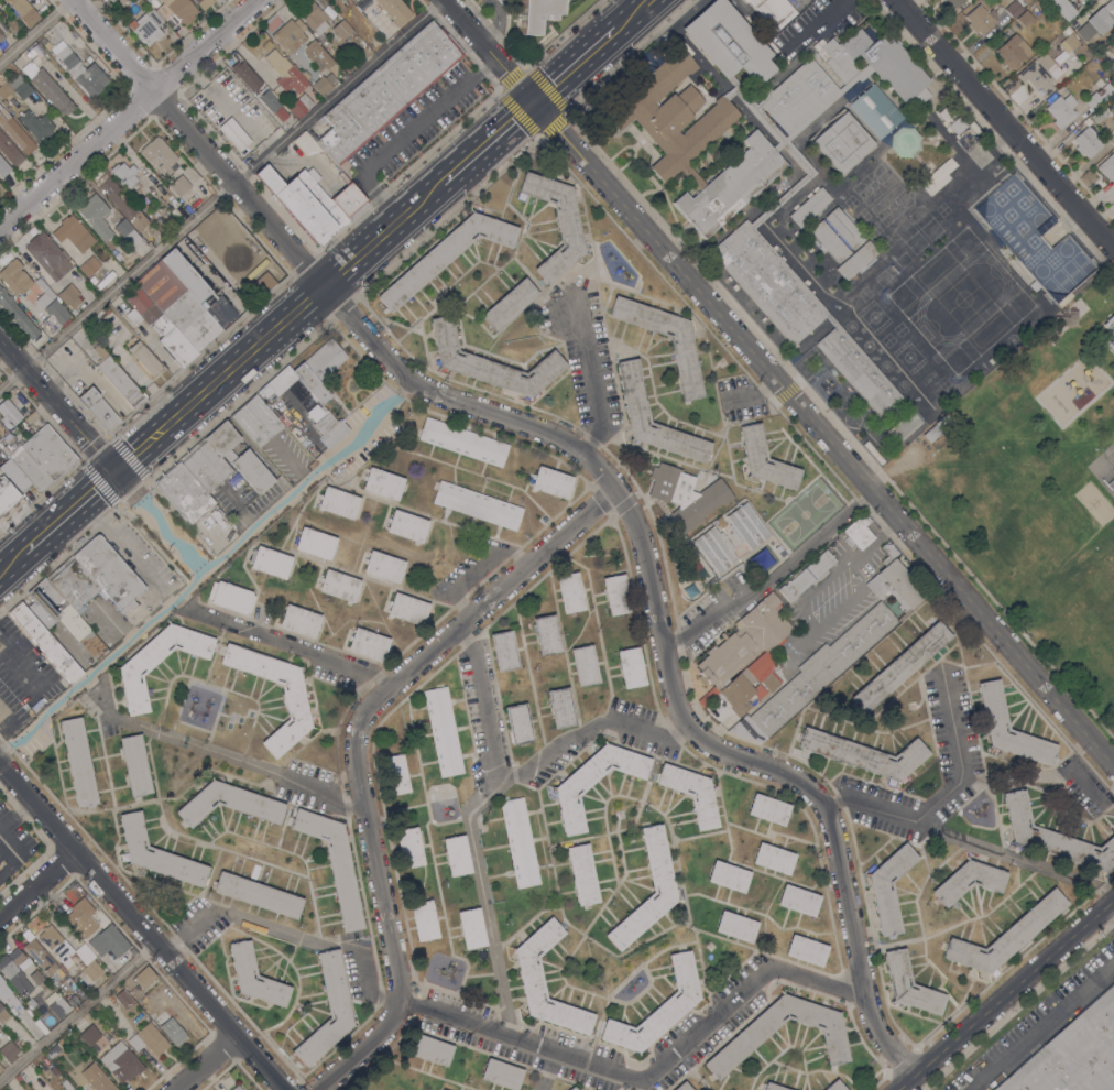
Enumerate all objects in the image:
building: (111, 0)
building: (353, 0)
building: (944, 0)
building: (1077, 0)
building: (197, 1)
building: (154, 2)
building: (954, 2)
building: (1108, 4)
building: (1015, 8)
building: (1062, 8)
building: (181, 10)
building: (394, 10)
building: (23, 11)
building: (773, 11)
building: (535, 14)
road: (631, 15)
building: (313, 17)
building: (980, 19)
building: (1024, 20)
road: (817, 24)
building: (1094, 25)
building: (146, 26)
building: (2, 28)
building: (62, 29)
road: (34, 30)
building: (341, 30)
building: (288, 36)
building: (1070, 41)
building: (2, 42)
building: (728, 42)
building: (45, 43)
building: (263, 48)
building: (1012, 51)
building: (34, 52)
building: (875, 64)
building: (320, 67)
road: (572, 67)
building: (79, 69)
building: (1101, 70)
building: (242, 72)
building: (285, 73)
building: (1039, 74)
building: (856, 77)
building: (1111, 84)
building: (14, 87)
building: (764, 87)
building: (47, 88)
building: (386, 90)
building: (799, 98)
building: (1095, 99)
building: (1110, 101)
building: (301, 106)
building: (1061, 110)
building: (278, 111)
building: (874, 111)
building: (946, 112)
road: (129, 113)
building: (671, 115)
building: (1100, 115)
building: (1088, 122)
building: (35, 124)
building: (957, 124)
road: (1006, 124)
building: (15, 132)
building: (233, 133)
road: (405, 134)
building: (1086, 142)
road: (487, 143)
building: (841, 143)
building: (789, 150)
building: (9, 151)
building: (160, 156)
building: (1107, 166)
building: (3, 167)
building: (692, 176)
building: (937, 176)
building: (128, 179)
building: (178, 185)
building: (731, 185)
road: (217, 193)
road: (425, 196)
building: (121, 201)
building: (310, 203)
building: (809, 207)
building: (95, 216)
building: (161, 224)
building: (566, 224)
building: (208, 225)
building: (154, 227)
building: (843, 228)
building: (76, 231)
building: (127, 232)
building: (1033, 239)
building: (70, 240)
building: (829, 241)
building: (230, 242)
road: (365, 248)
building: (445, 254)
building: (118, 255)
building: (47, 257)
building: (855, 260)
building: (89, 265)
building: (185, 275)
building: (14, 277)
building: (92, 280)
building: (768, 282)
building: (263, 283)
building: (41, 285)
building: (68, 296)
road: (302, 304)
building: (509, 304)
building: (17, 315)
building: (55, 316)
building: (1068, 319)
building: (190, 320)
building: (830, 320)
building: (157, 326)
building: (1110, 331)
building: (144, 358)
building: (491, 363)
building: (685, 367)
building: (858, 370)
road: (227, 371)
building: (308, 372)
building: (118, 378)
road: (591, 381)
road: (777, 383)
building: (632, 392)
road: (755, 394)
road: (57, 405)
building: (97, 408)
building: (9, 414)
building: (256, 421)
building: (327, 425)
building: (903, 426)
building: (931, 434)
building: (462, 442)
road: (144, 446)
building: (47, 451)
building: (312, 451)
building: (872, 453)
park: (1110, 456)
building: (238, 458)
building: (764, 459)
building: (24, 465)
building: (204, 468)
road: (600, 469)
building: (13, 477)
building: (550, 482)
building: (382, 483)
park: (1035, 487)
road: (97, 489)
building: (183, 493)
building: (685, 495)
building: (337, 502)
building: (476, 505)
road: (159, 523)
building: (406, 526)
building: (746, 526)
road: (53, 528)
building: (858, 532)
building: (315, 543)
building: (714, 548)
road: (125, 553)
building: (270, 563)
road: (13, 564)
building: (820, 564)
building: (383, 567)
road: (208, 568)
building: (108, 573)
road: (771, 577)
building: (894, 580)
building: (73, 585)
building: (795, 585)
building: (338, 586)
building: (569, 592)
building: (615, 595)
building: (230, 597)
building: (407, 609)
building: (62, 617)
building: (299, 620)
building: (546, 634)
road: (281, 642)
building: (44, 643)
building: (368, 643)
building: (742, 646)
building: (503, 651)
building: (156, 662)
building: (583, 666)
building: (899, 667)
building: (630, 668)
building: (813, 674)
building: (763, 675)
road: (36, 694)
building: (739, 695)
building: (294, 701)
road: (105, 702)
building: (991, 706)
building: (560, 708)
building: (721, 715)
building: (518, 724)
building: (443, 731)
road: (204, 748)
road: (353, 752)
building: (863, 754)
building: (77, 762)
building: (134, 765)
road: (525, 769)
building: (394, 774)
road: (1038, 774)
building: (592, 782)
road: (319, 788)
building: (690, 794)
road: (944, 794)
building: (228, 804)
building: (767, 809)
building: (1052, 837)
building: (518, 842)
road: (983, 847)
building: (408, 848)
road: (11, 849)
building: (155, 853)
building: (456, 855)
building: (773, 859)
building: (656, 860)
building: (334, 864)
building: (581, 874)
building: (728, 876)
building: (968, 881)
road: (37, 882)
building: (887, 887)
building: (58, 894)
building: (256, 895)
building: (798, 900)
road: (482, 901)
road: (1110, 909)
building: (423, 920)
building: (84, 922)
road: (141, 925)
building: (735, 927)
building: (470, 928)
road: (291, 931)
building: (1004, 936)
building: (107, 941)
building: (57, 947)
building: (806, 950)
building: (39, 953)
building: (84, 953)
building: (90, 970)
building: (14, 972)
building: (36, 977)
building: (143, 977)
building: (254, 977)
building: (529, 978)
building: (66, 979)
building: (908, 984)
building: (7, 993)
road: (1004, 993)
building: (122, 998)
building: (31, 1003)
building: (58, 1007)
building: (657, 1009)
building: (327, 1010)
road: (78, 1012)
building: (3, 1015)
road: (1044, 1026)
building: (168, 1027)
building: (88, 1035)
building: (148, 1042)
building: (740, 1045)
building: (430, 1050)
building: (8, 1051)
building: (53, 1051)
building: (1072, 1054)
building: (121, 1062)
road: (205, 1062)
building: (0, 1068)
building: (54, 1070)
road: (546, 1070)
building: (501, 1073)
building: (17, 1079)
road: (651, 1079)
building: (100, 1081)
building: (66, 1084)
building: (834, 1086)
building: (682, 1087)
building: (772, 1087)
building: (236, 1088)
building: (571, 1088)

